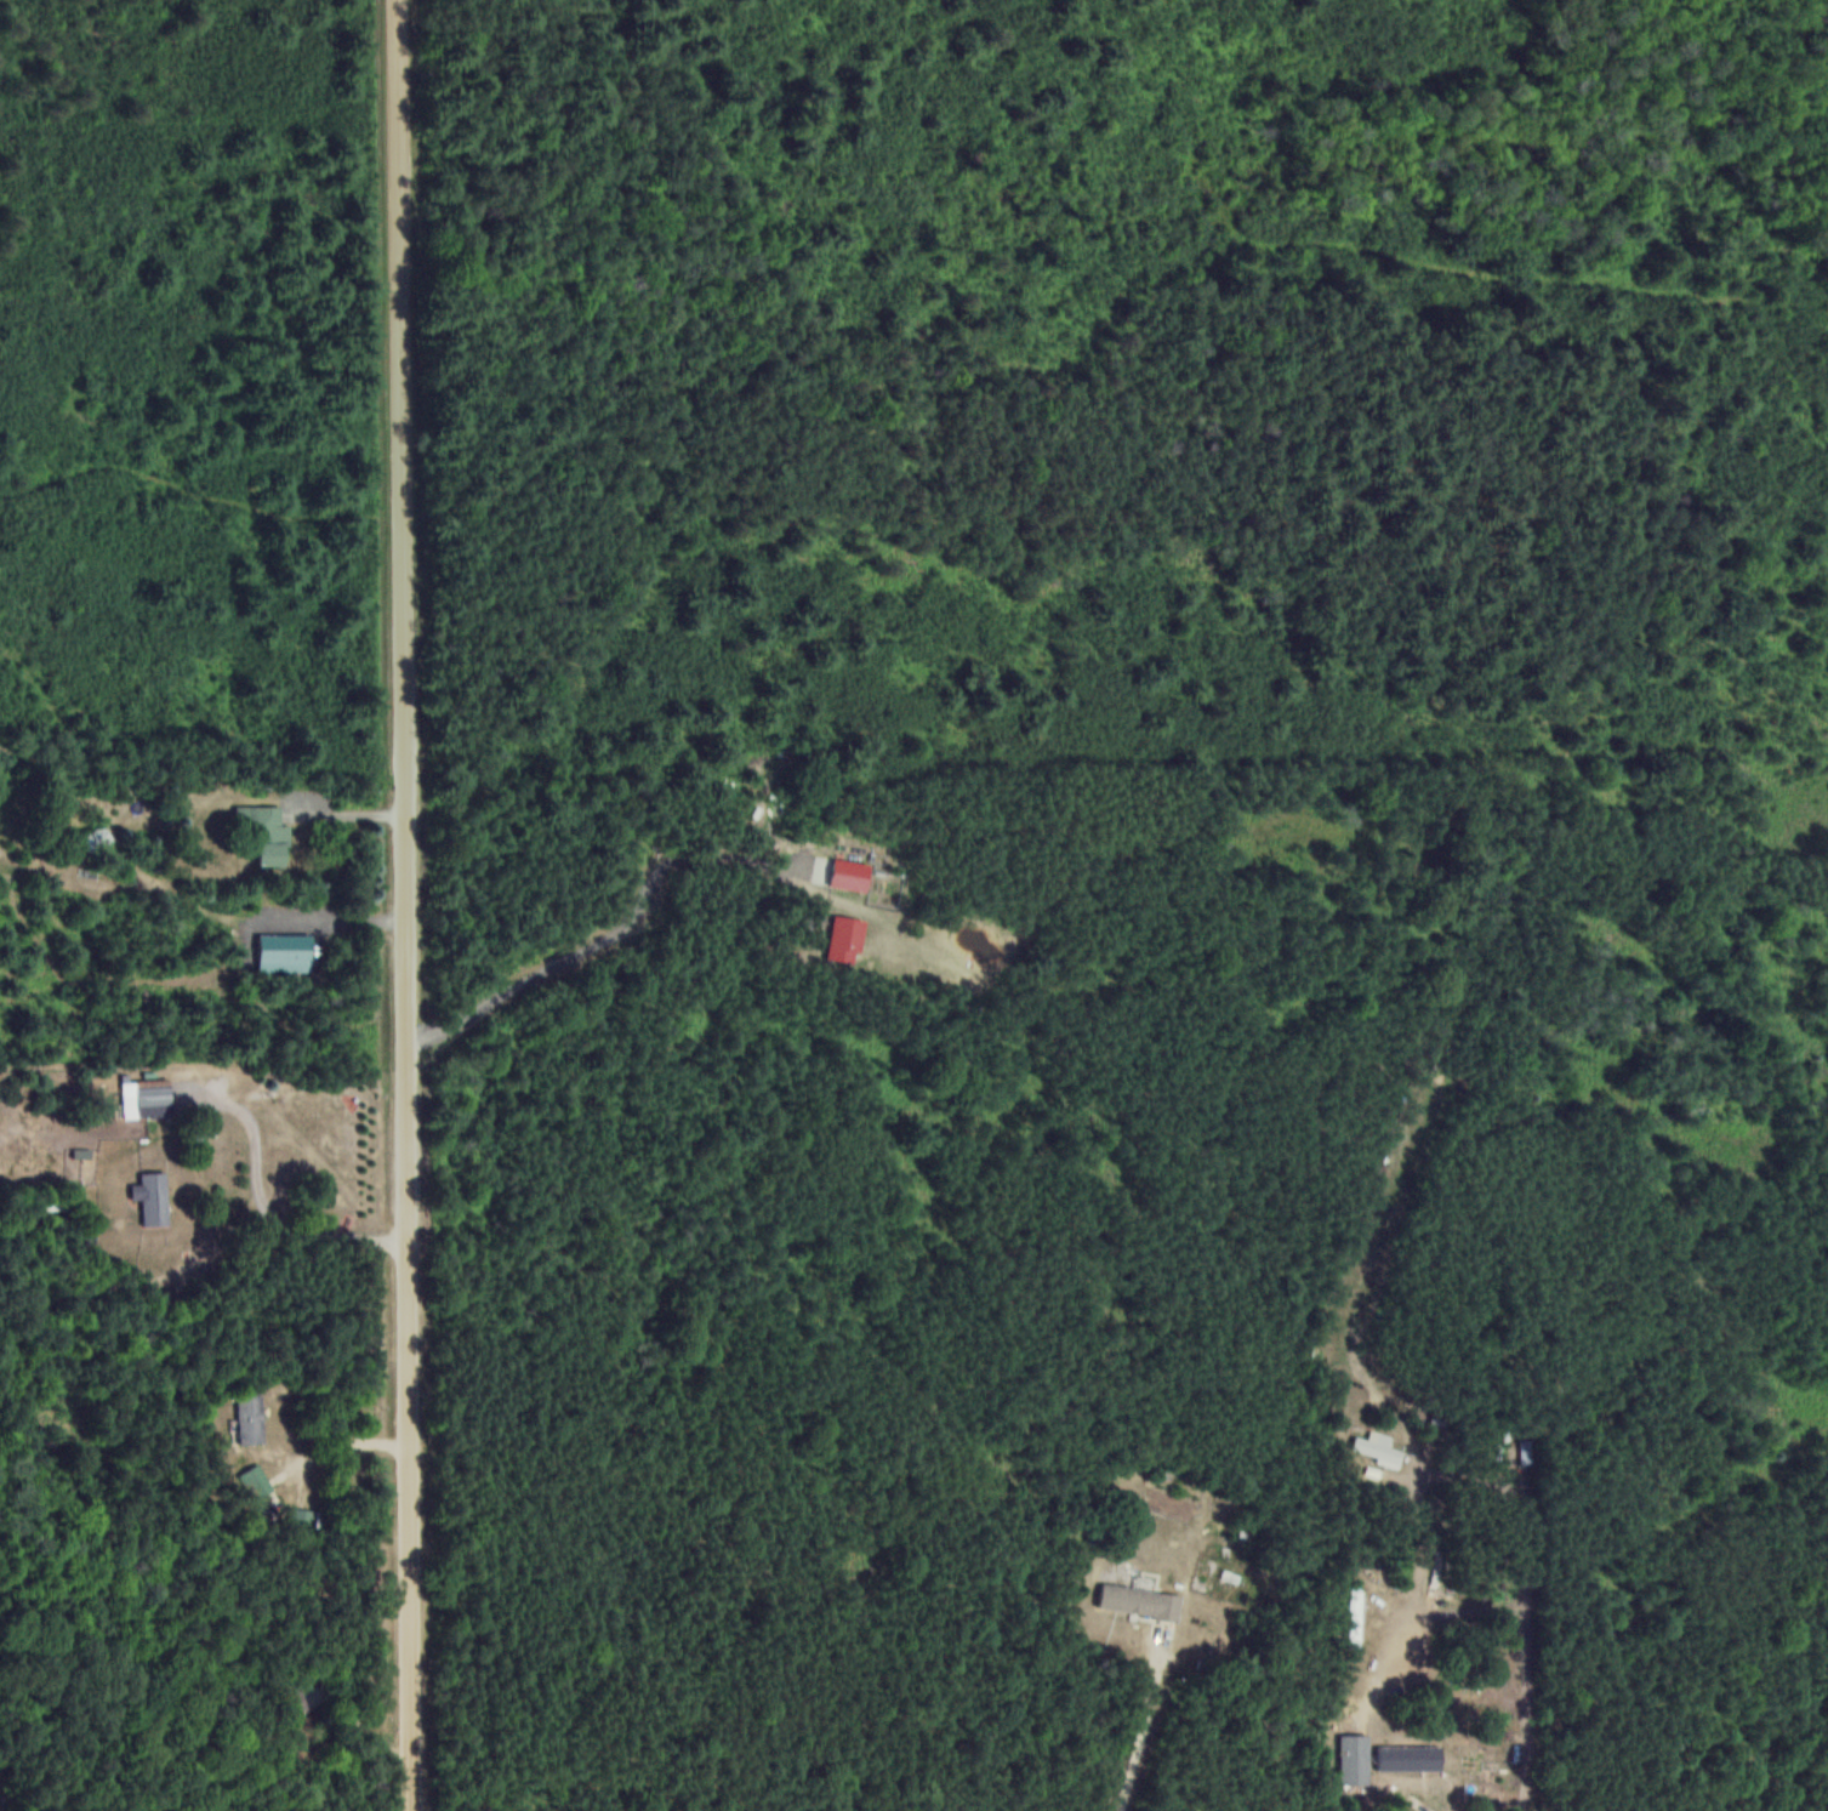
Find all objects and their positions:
building: (266, 832)
building: (97, 839)
road: (409, 905)
road: (616, 935)
building: (147, 1104)
building: (154, 1197)
road: (264, 1208)
building: (251, 1417)
building: (1379, 1448)
building: (262, 1491)
building: (302, 1516)
building: (1140, 1600)
building: (1356, 1617)
road: (1382, 1651)
road: (1123, 1725)
building: (302, 1736)
building: (1431, 1750)
building: (1356, 1759)

